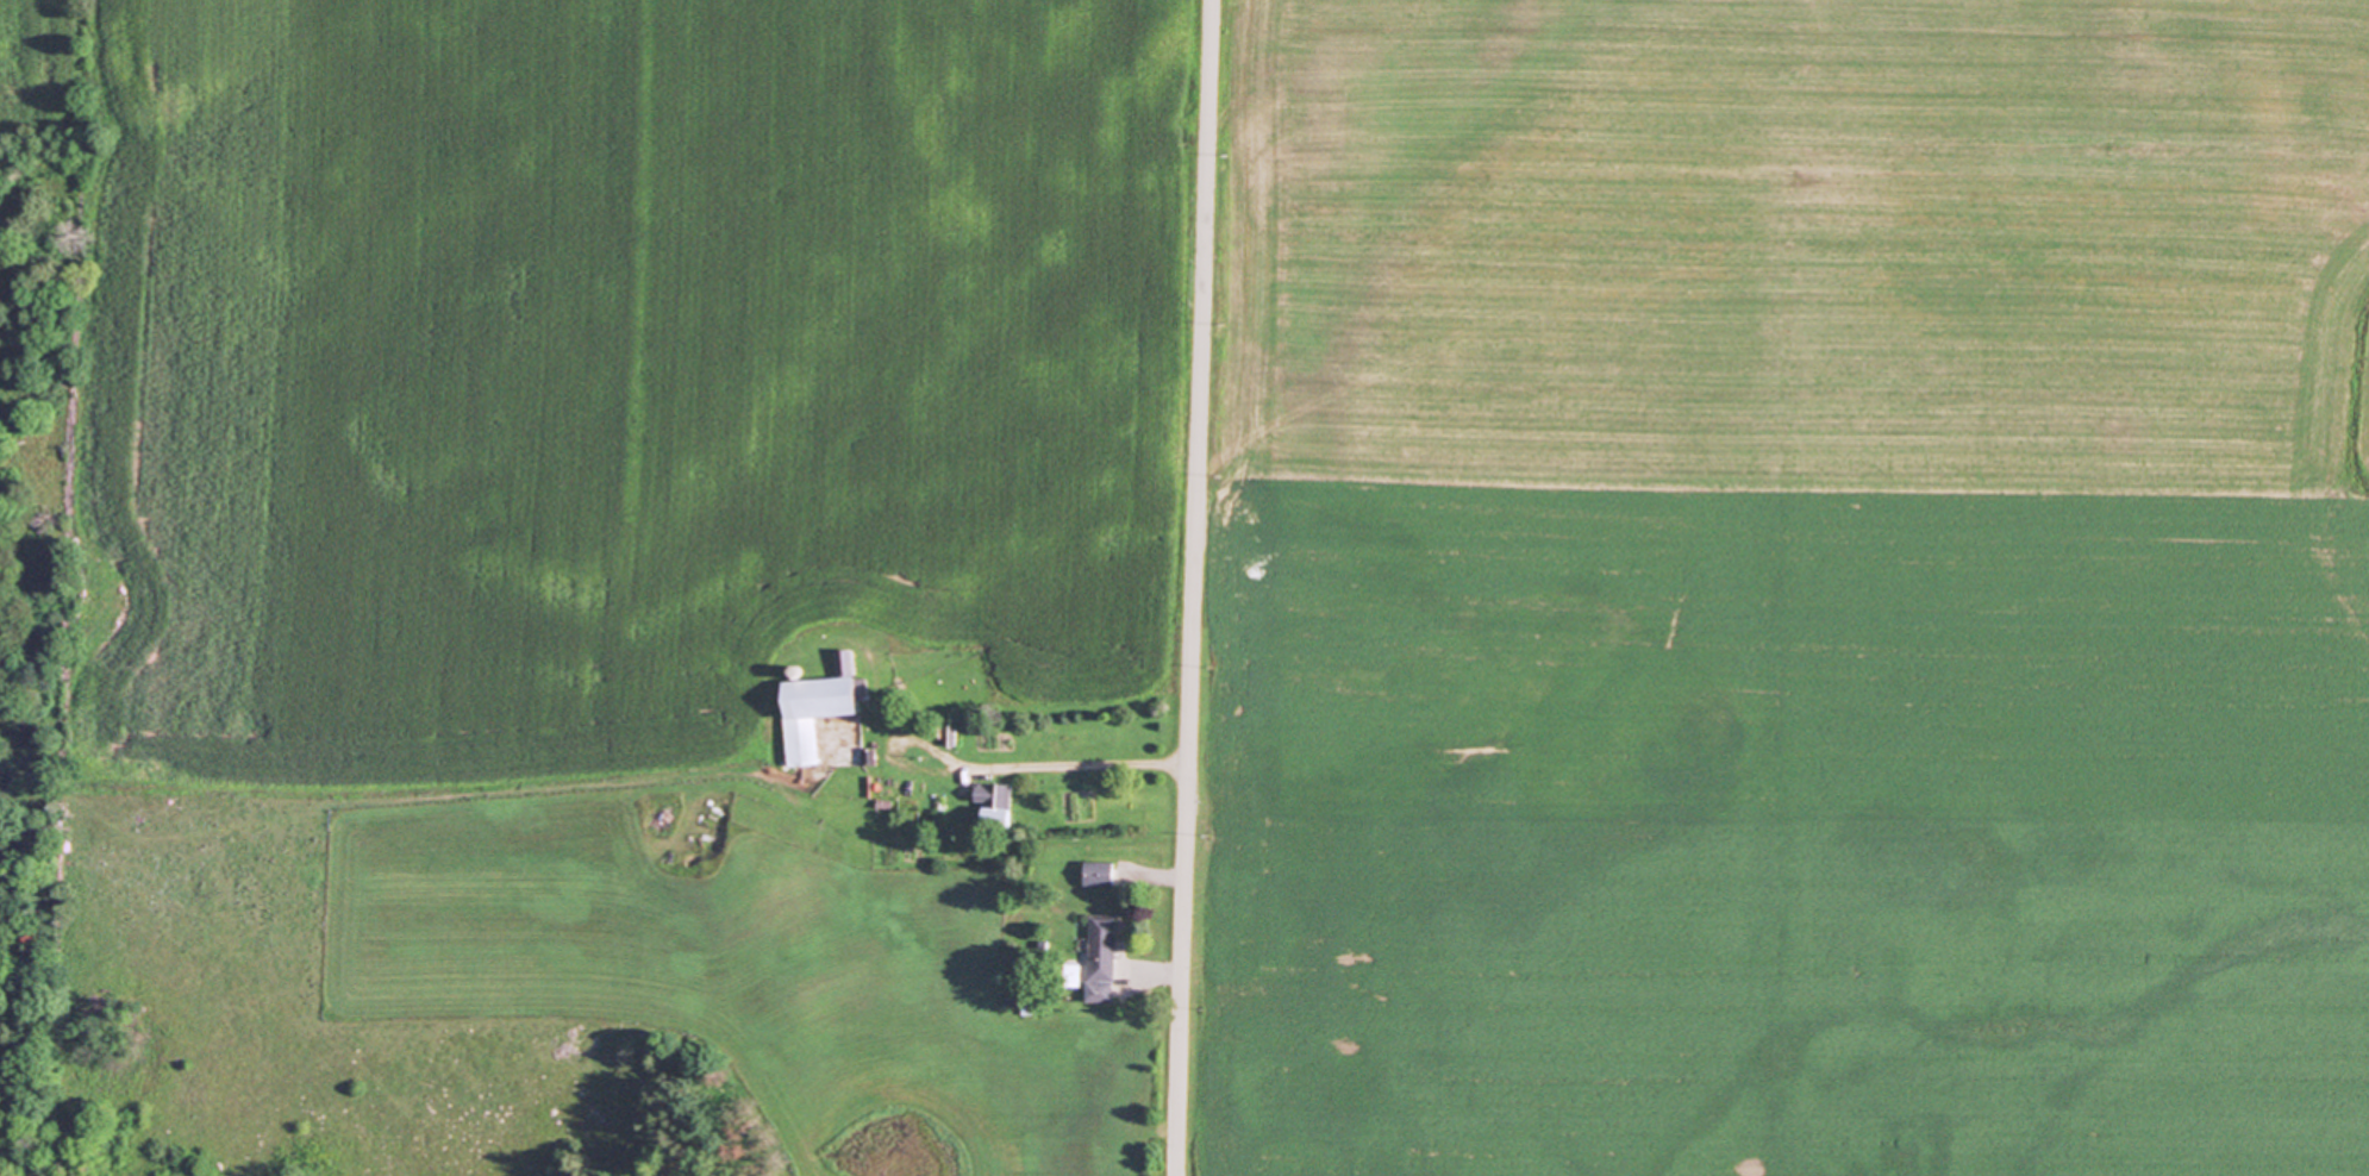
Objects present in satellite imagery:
road: (1192, 588)
building: (825, 705)
road: (1040, 764)
building: (900, 784)
building: (1000, 805)
building: (1104, 872)
road: (1163, 874)
building: (1107, 957)
road: (1163, 972)

